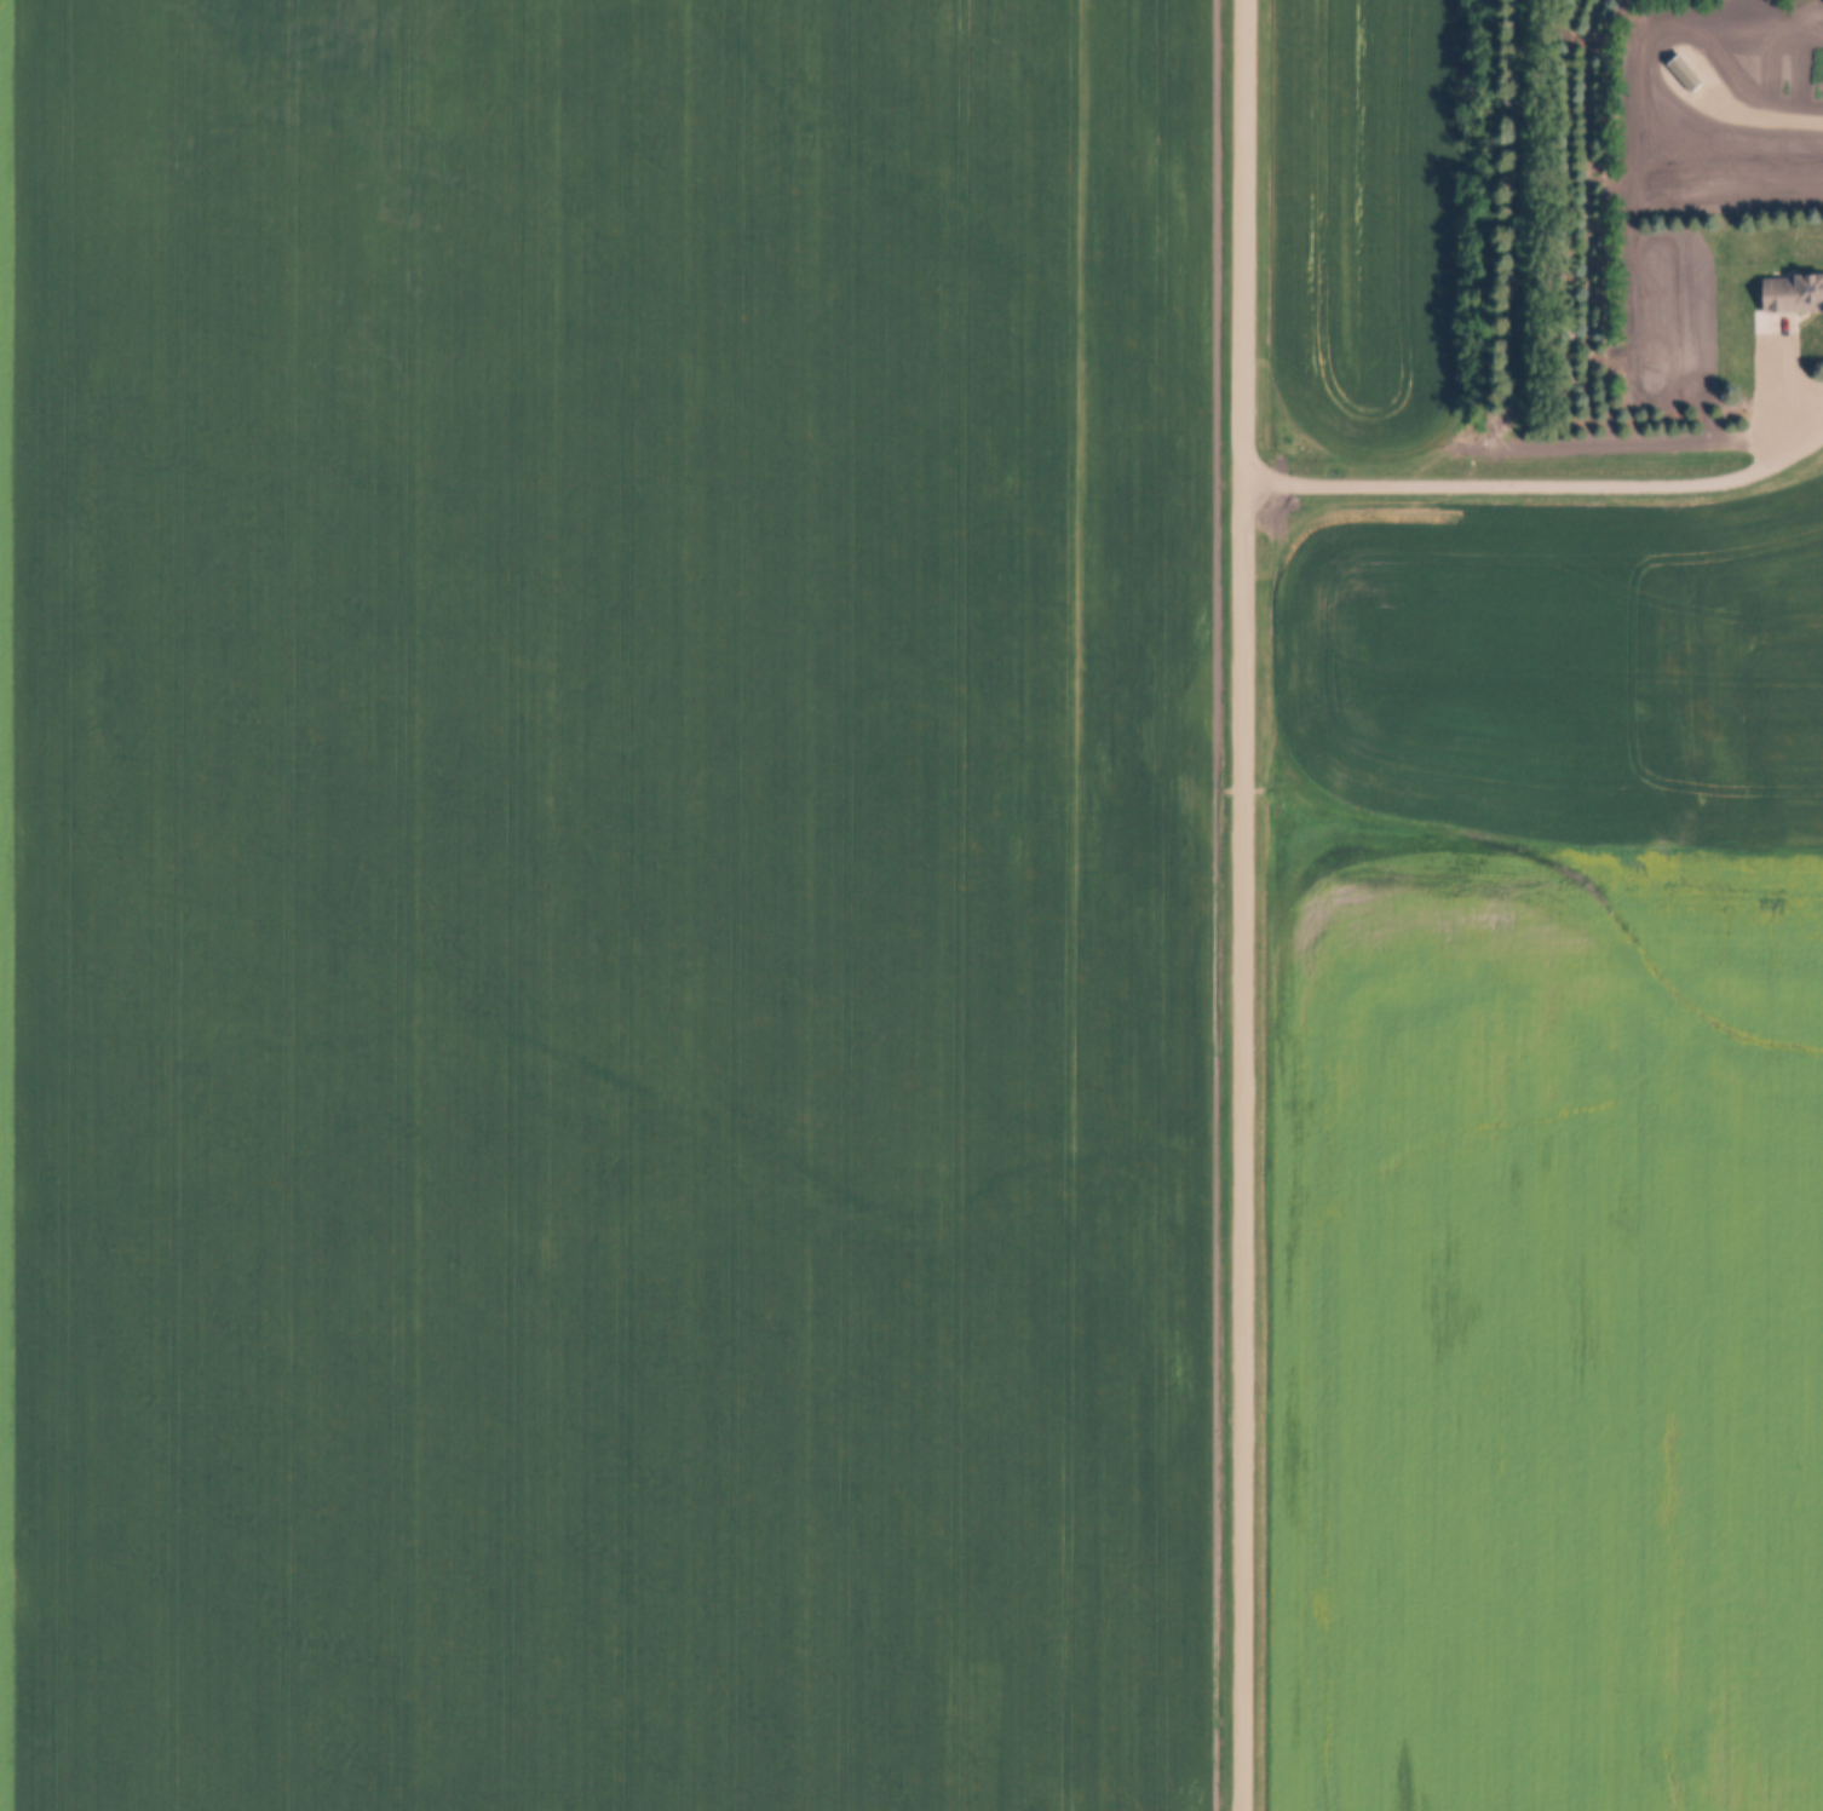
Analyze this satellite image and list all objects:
building: (1788, 306)
road: (1541, 476)
road: (1249, 904)

